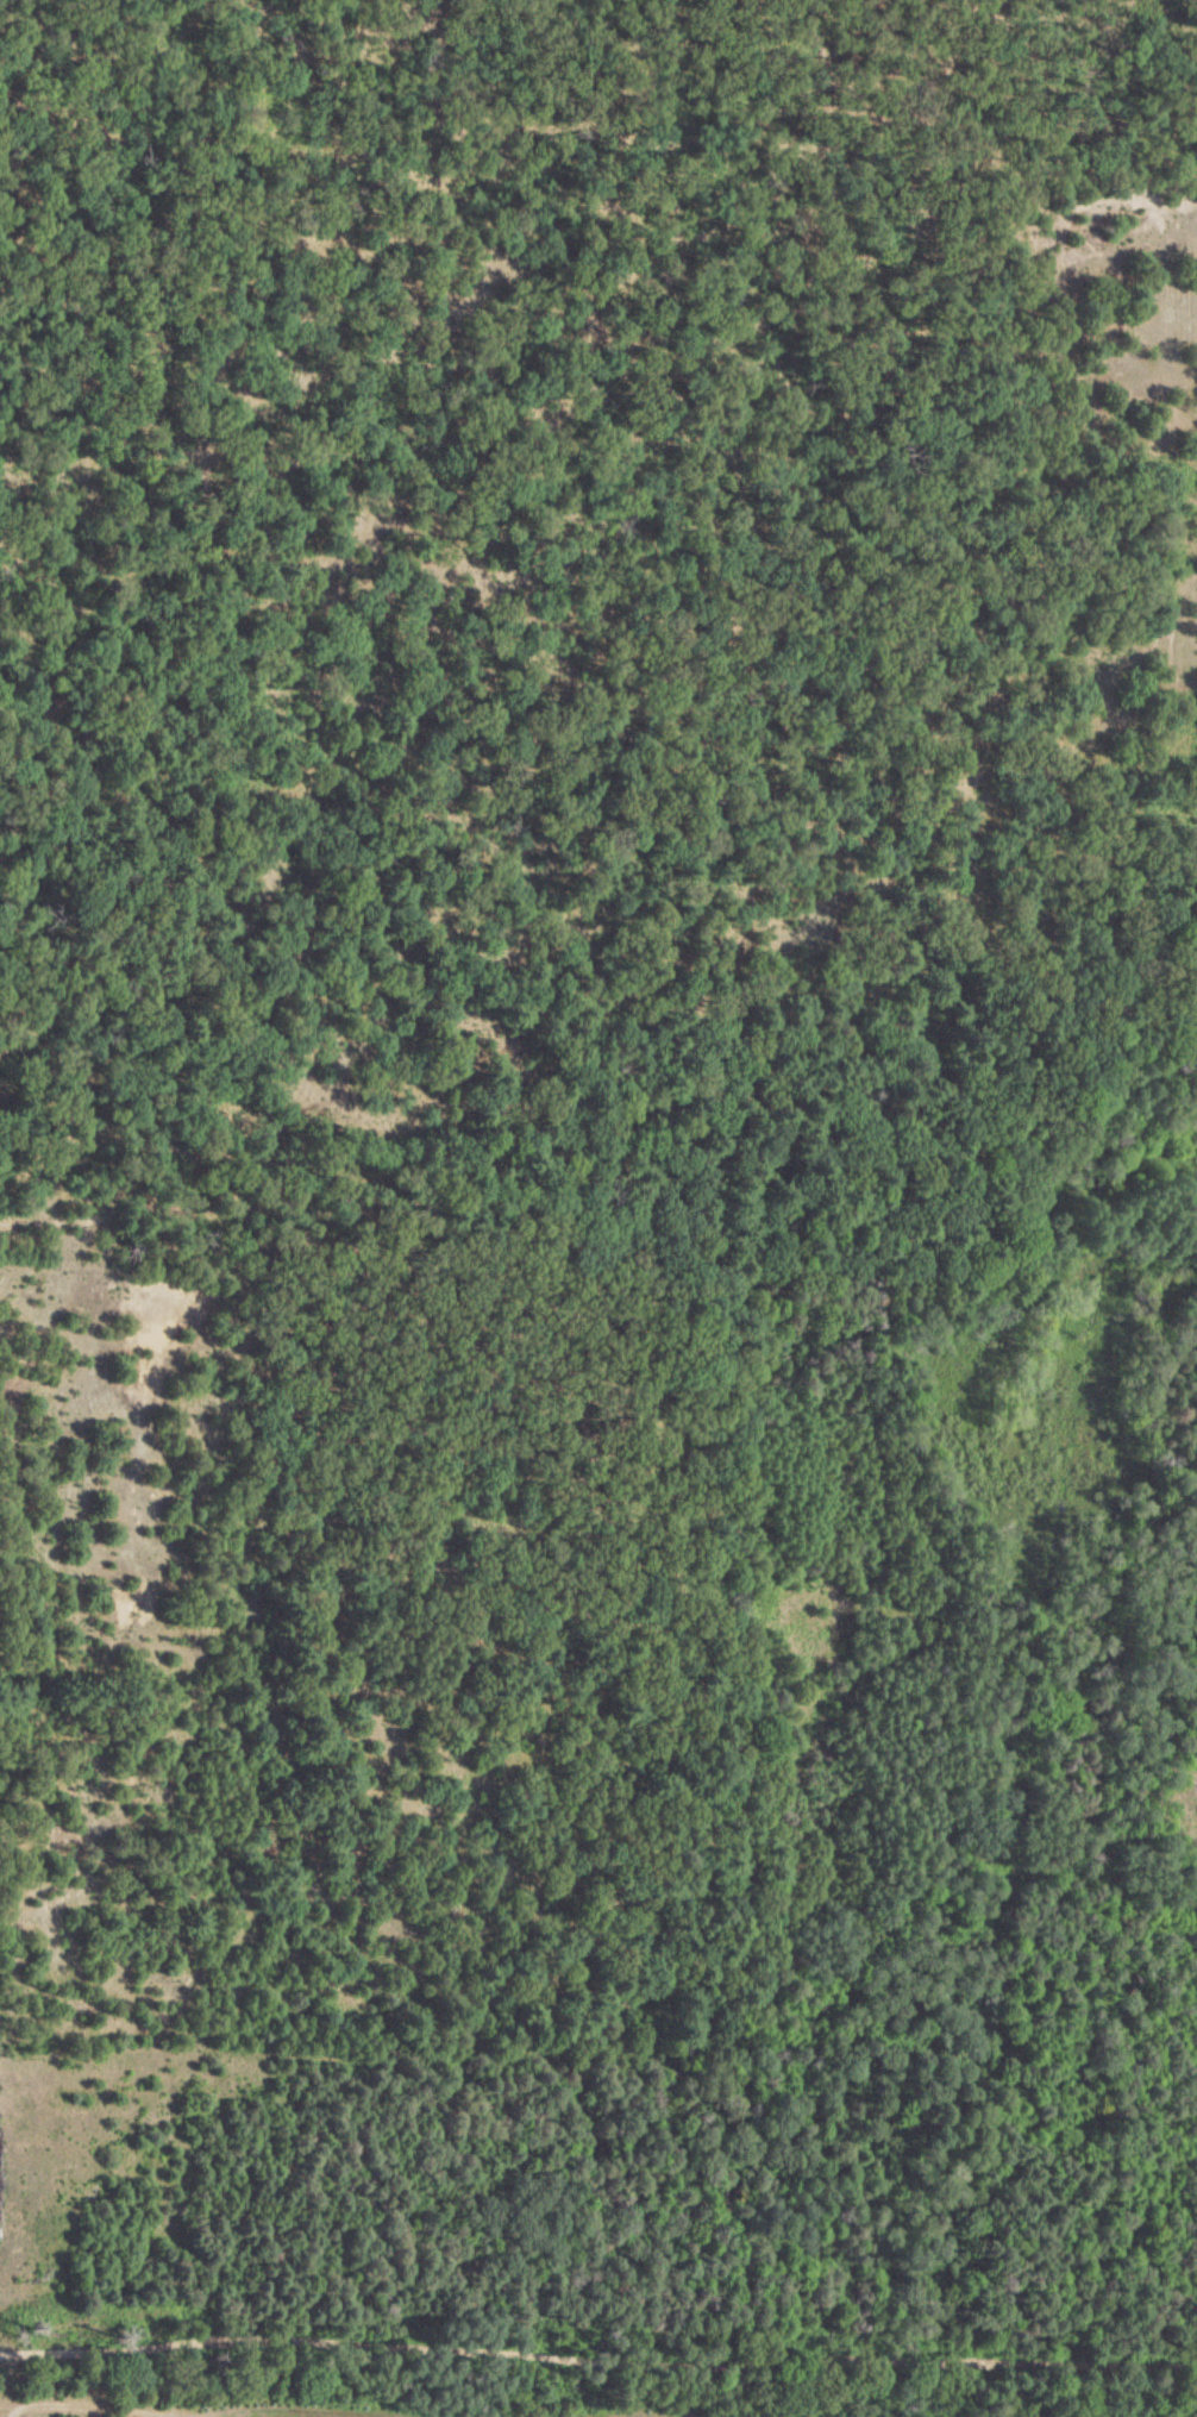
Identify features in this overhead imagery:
road: (594, 2336)

